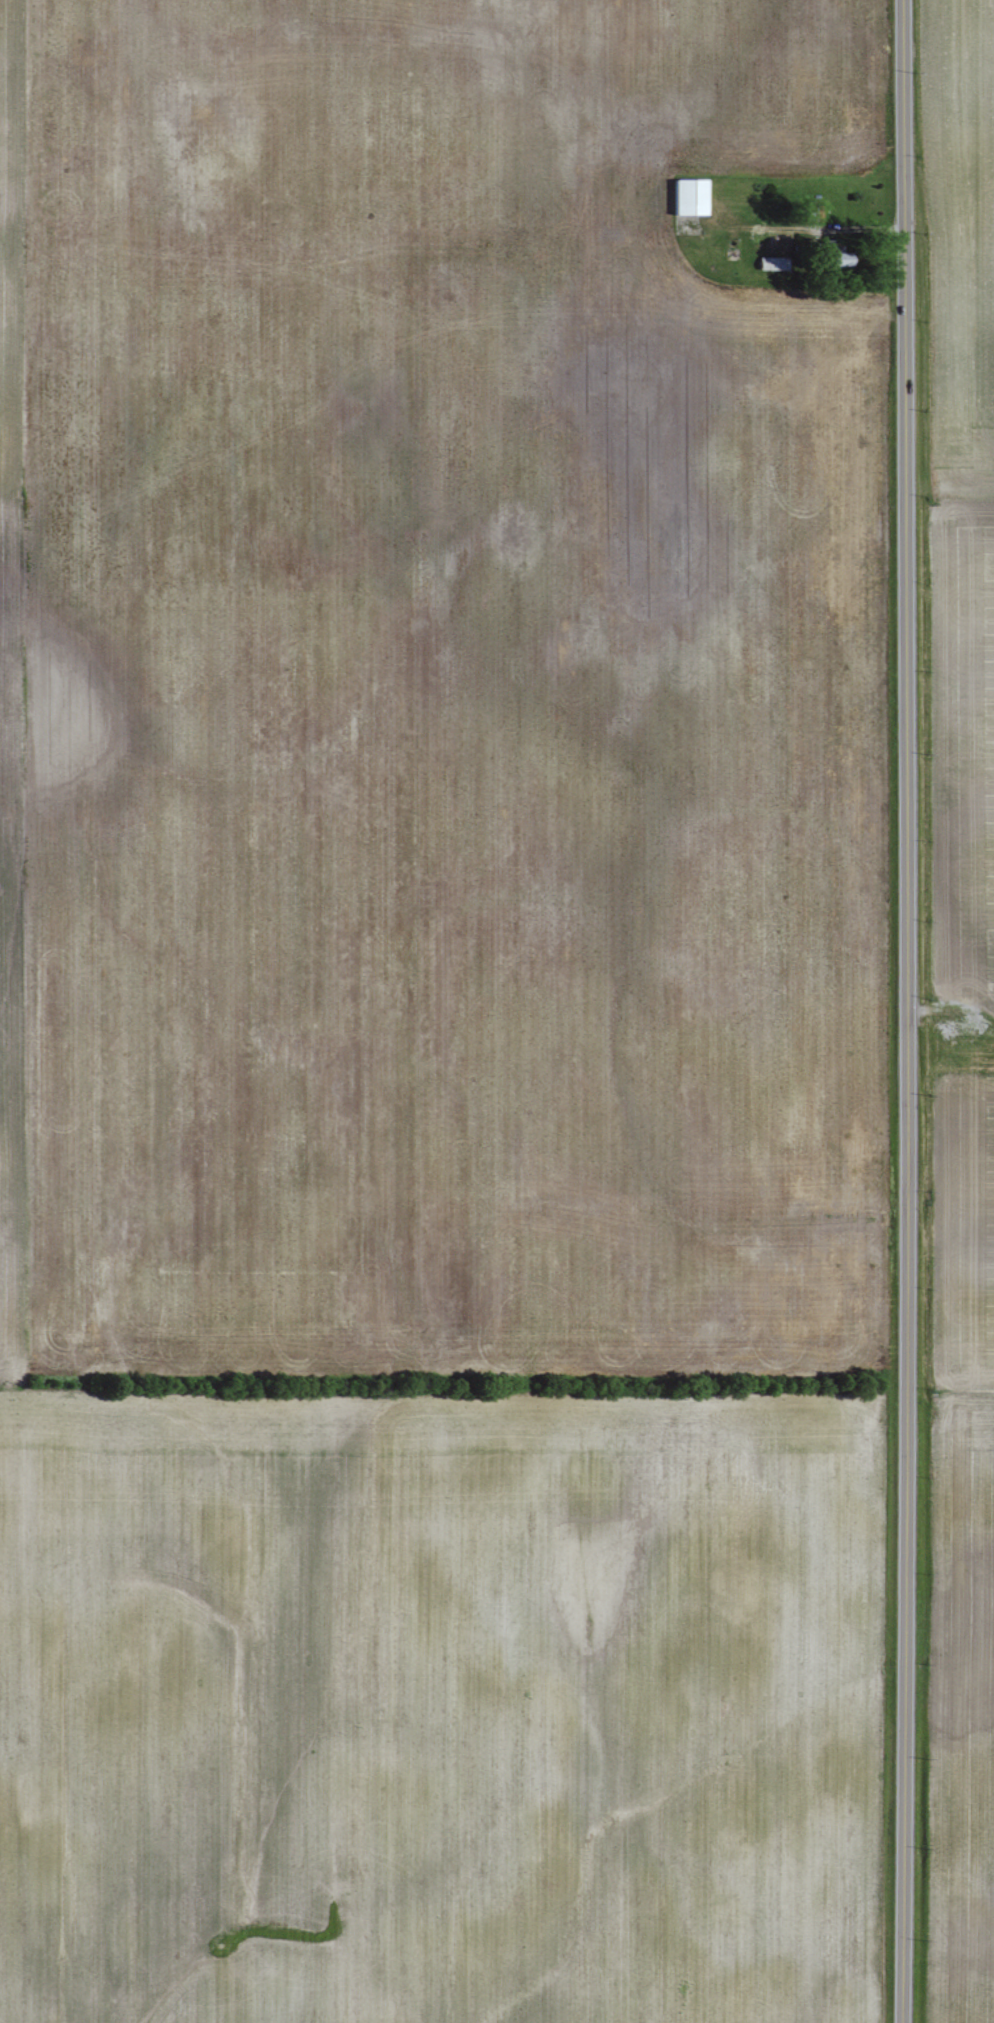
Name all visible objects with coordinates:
building: (691, 197)
road: (830, 228)
building: (837, 254)
building: (774, 263)
road: (905, 1011)

